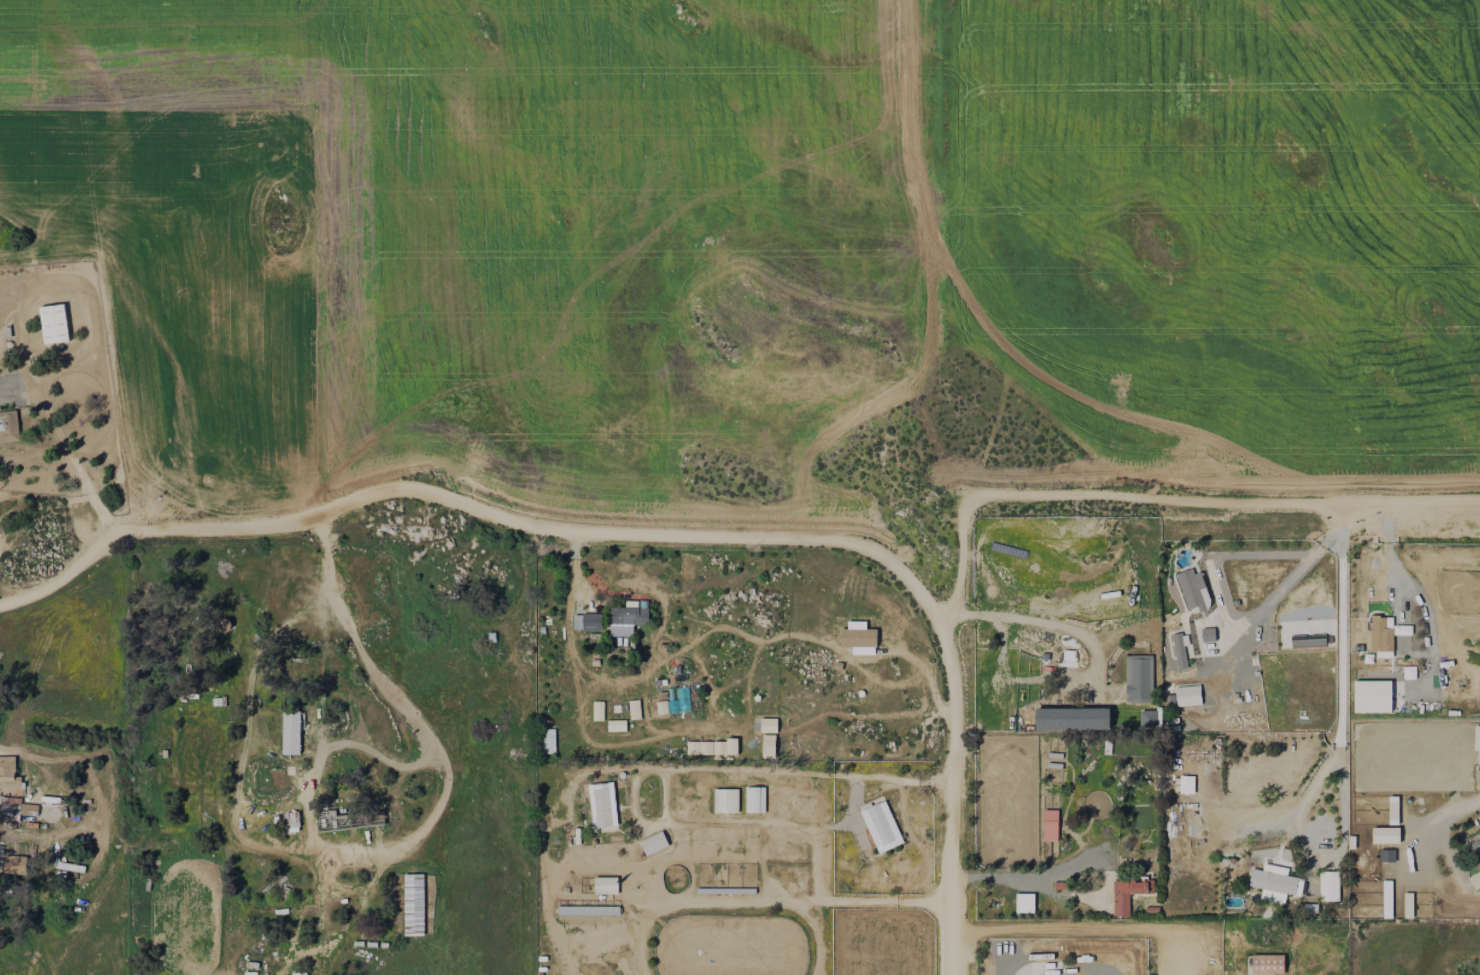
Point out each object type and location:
building: (54, 323)
building: (8, 426)
road: (80, 473)
road: (1160, 496)
road: (474, 508)
building: (1193, 590)
road: (1230, 613)
building: (626, 620)
road: (1039, 620)
building: (591, 621)
building: (1207, 634)
building: (1382, 636)
building: (858, 637)
building: (1180, 649)
road: (325, 667)
building: (1408, 674)
building: (1138, 678)
building: (1187, 695)
building: (1372, 696)
building: (661, 707)
building: (634, 709)
building: (1072, 718)
building: (1148, 718)
building: (616, 725)
building: (806, 731)
building: (291, 732)
building: (1477, 742)
building: (712, 747)
road: (372, 750)
road: (1337, 751)
road: (437, 760)
building: (7, 775)
road: (827, 775)
building: (1186, 784)
road: (956, 799)
building: (725, 800)
building: (1392, 810)
building: (18, 812)
road: (1436, 820)
building: (1050, 825)
building: (881, 826)
building: (1385, 835)
building: (653, 843)
building: (1475, 851)
building: (1387, 855)
building: (14, 864)
road: (1028, 878)
building: (1272, 882)
building: (605, 885)
building: (1329, 886)
building: (1126, 894)
building: (1387, 899)
road: (803, 902)
building: (1025, 902)
building: (1408, 905)
road: (1098, 927)
building: (1267, 964)

